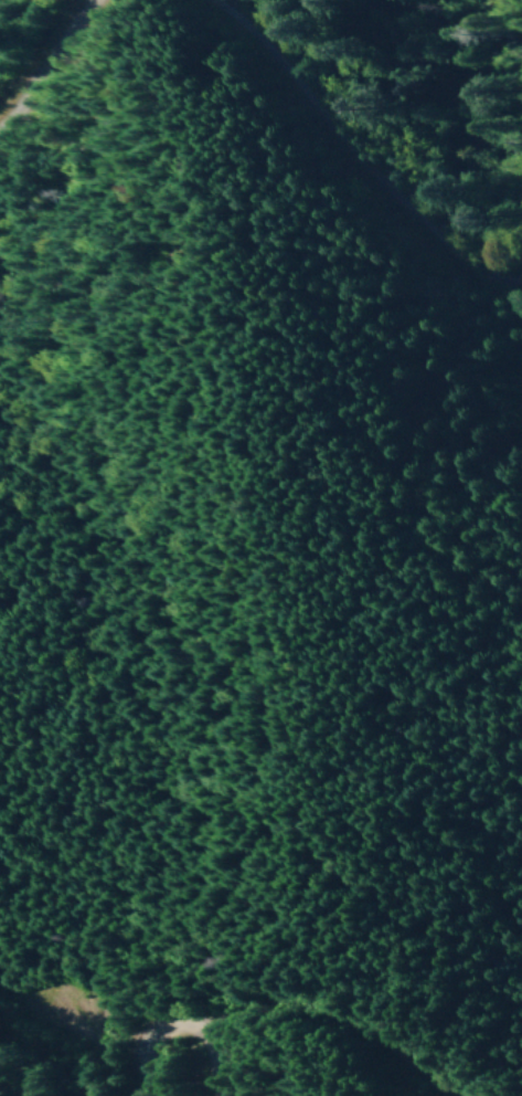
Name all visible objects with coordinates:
road: (41, 52)
road: (352, 162)
road: (317, 1018)
road: (167, 1024)
road: (74, 1050)

